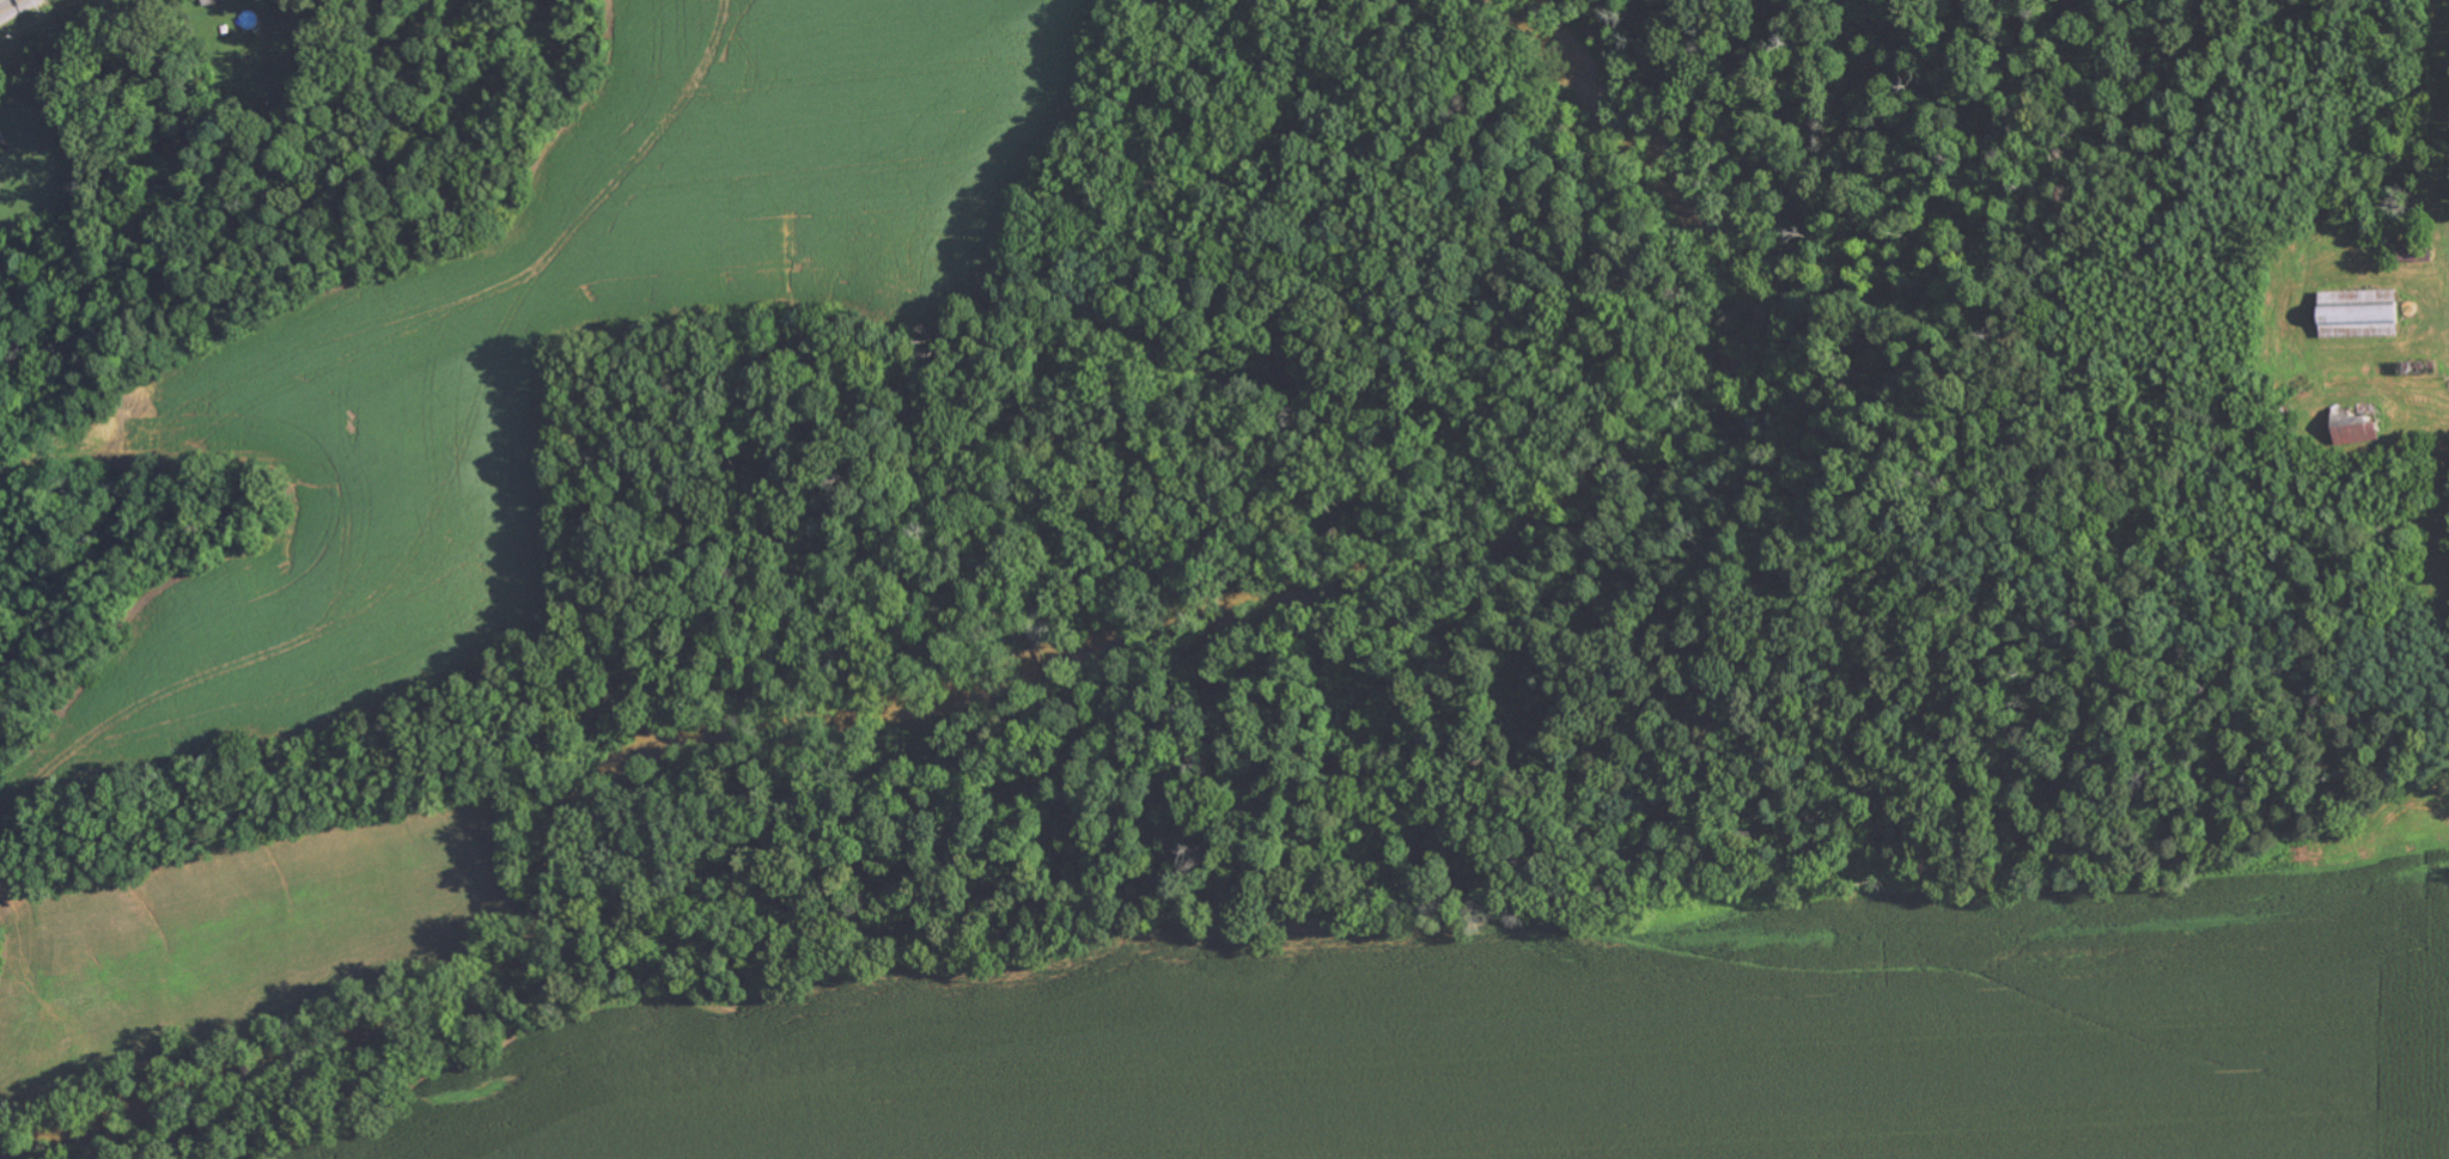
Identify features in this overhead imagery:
building: (214, 2)
road: (8, 5)
building: (2364, 313)
building: (2362, 433)

